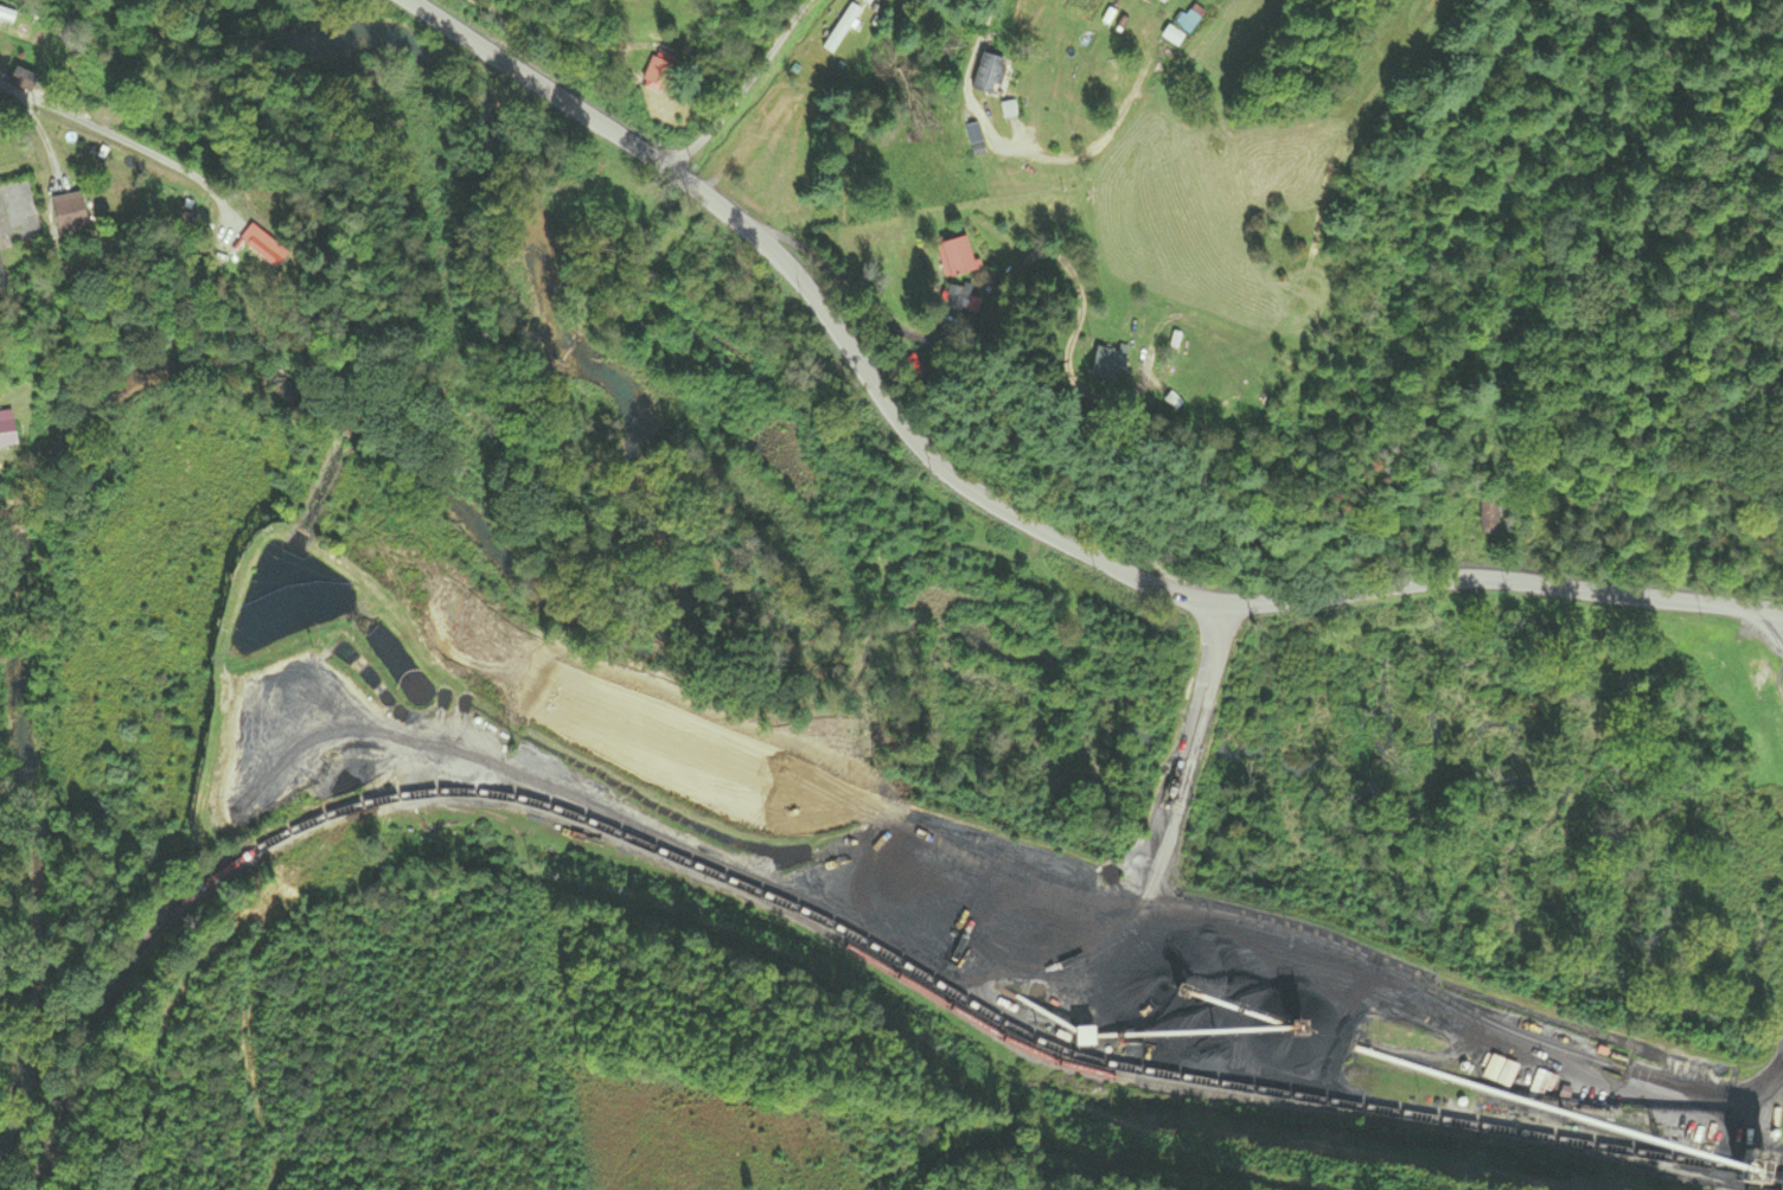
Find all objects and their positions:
building: (1162, 1)
building: (6, 15)
building: (1191, 19)
building: (846, 26)
building: (656, 75)
building: (989, 76)
building: (21, 78)
road: (742, 89)
road: (972, 107)
road: (96, 128)
building: (969, 133)
building: (63, 135)
building: (66, 213)
building: (956, 256)
road: (1020, 271)
building: (0, 286)
building: (958, 299)
building: (1105, 362)
building: (6, 428)
river: (397, 467)
road: (1008, 510)
building: (1488, 512)
river: (859, 536)
quarry: (857, 881)
railway: (816, 919)
building: (1501, 1071)
railway: (1207, 1093)

